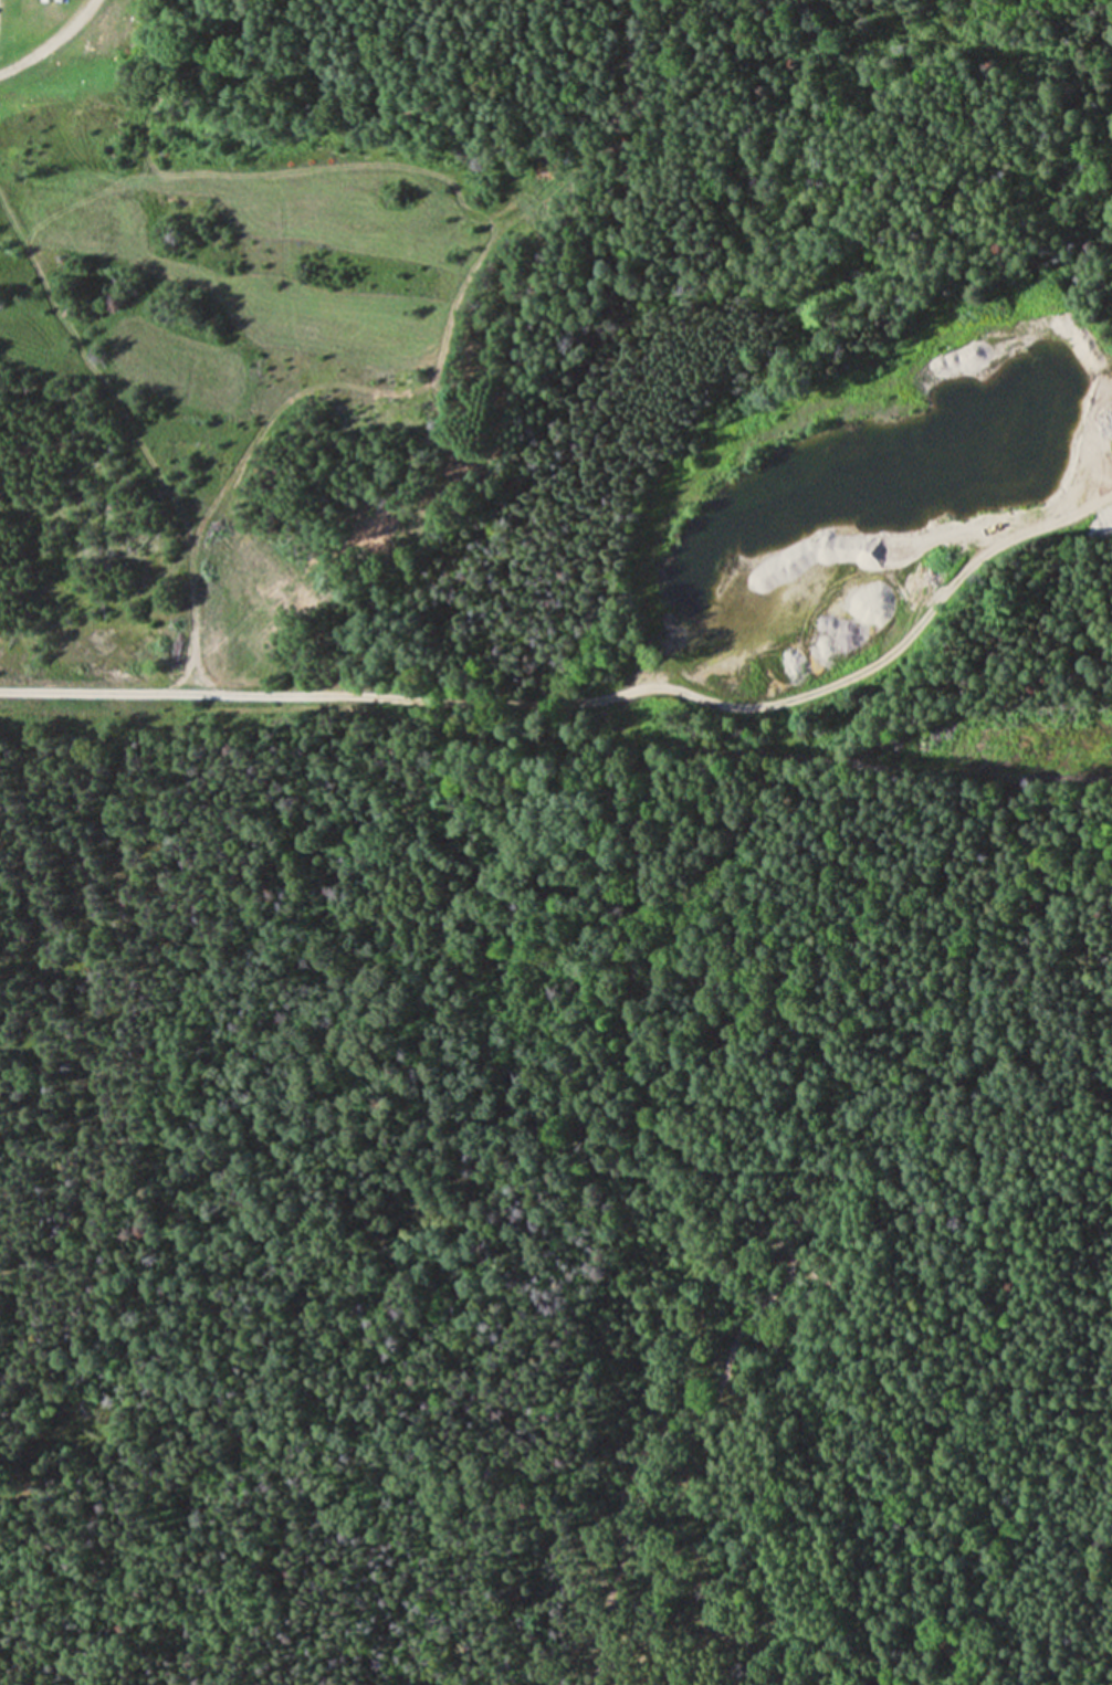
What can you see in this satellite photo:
road: (52, 41)
quarry: (859, 525)
road: (380, 699)

